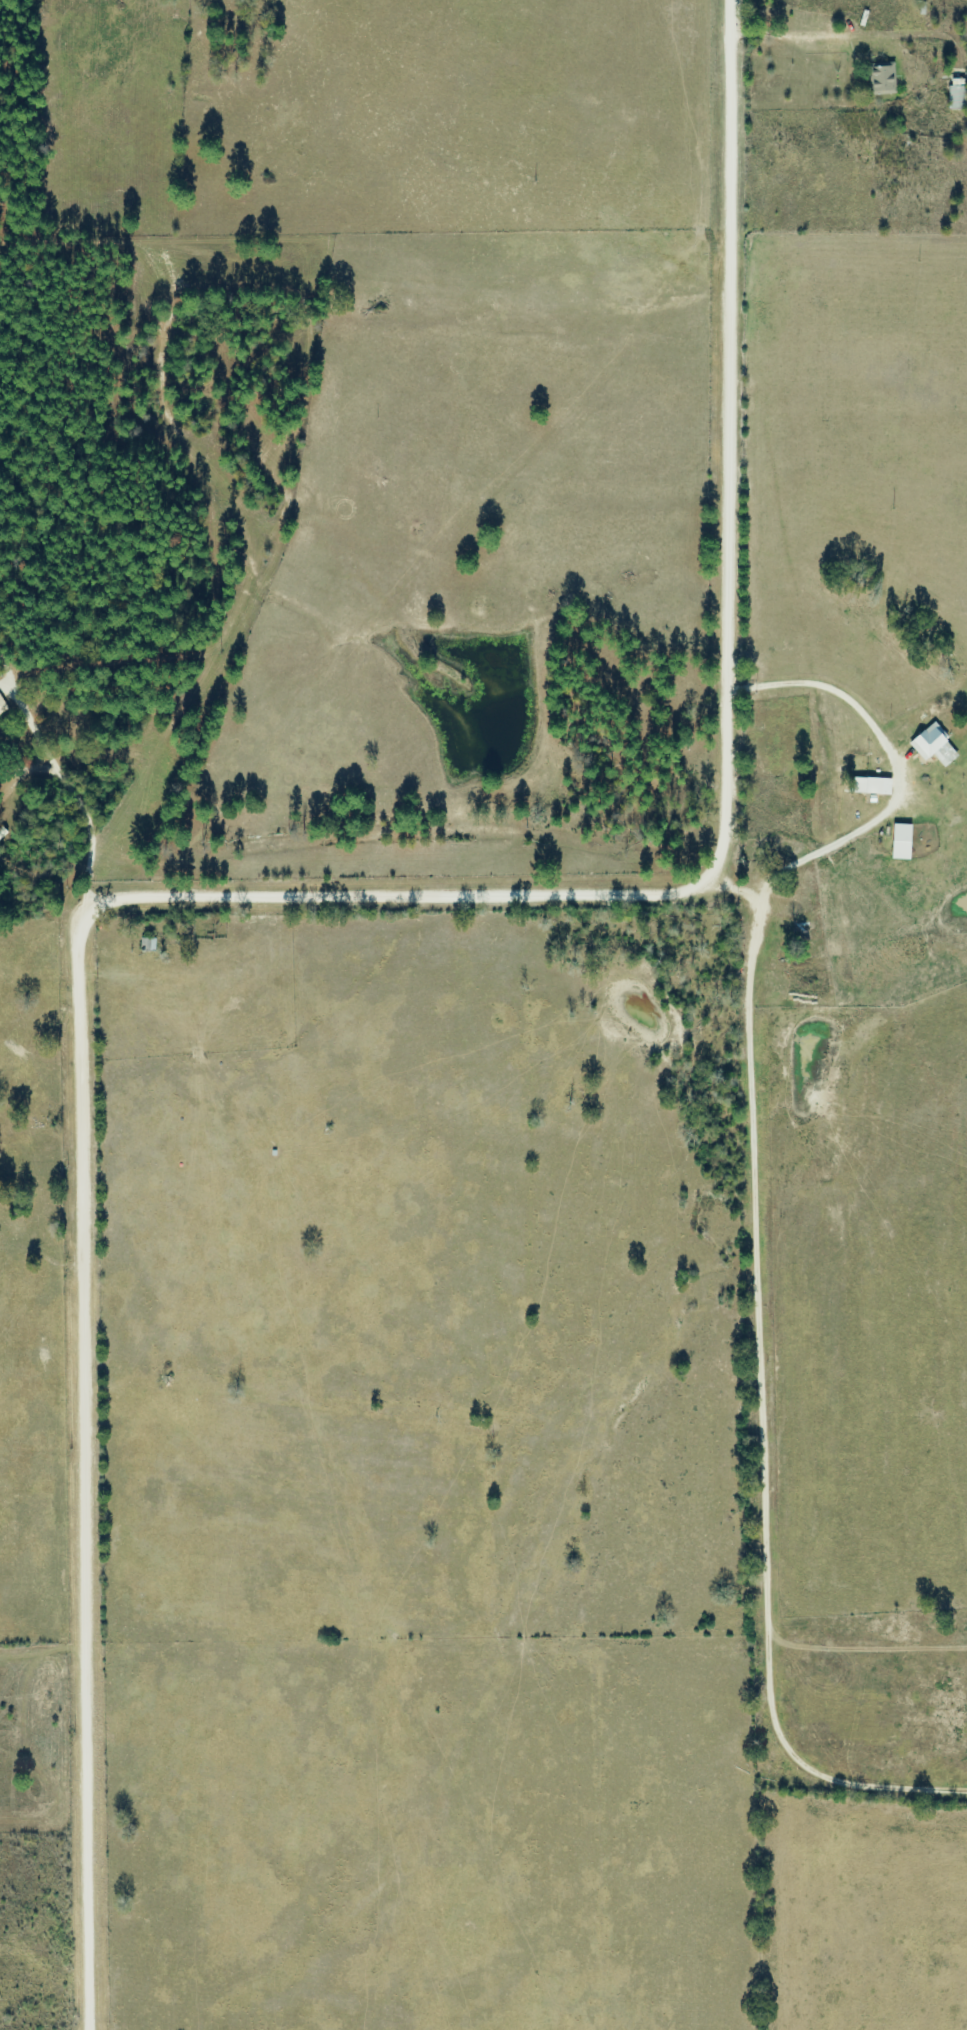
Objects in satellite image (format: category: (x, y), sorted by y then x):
building: (882, 80)
building: (957, 95)
building: (3, 708)
building: (930, 743)
building: (866, 787)
road: (221, 833)
building: (147, 949)

